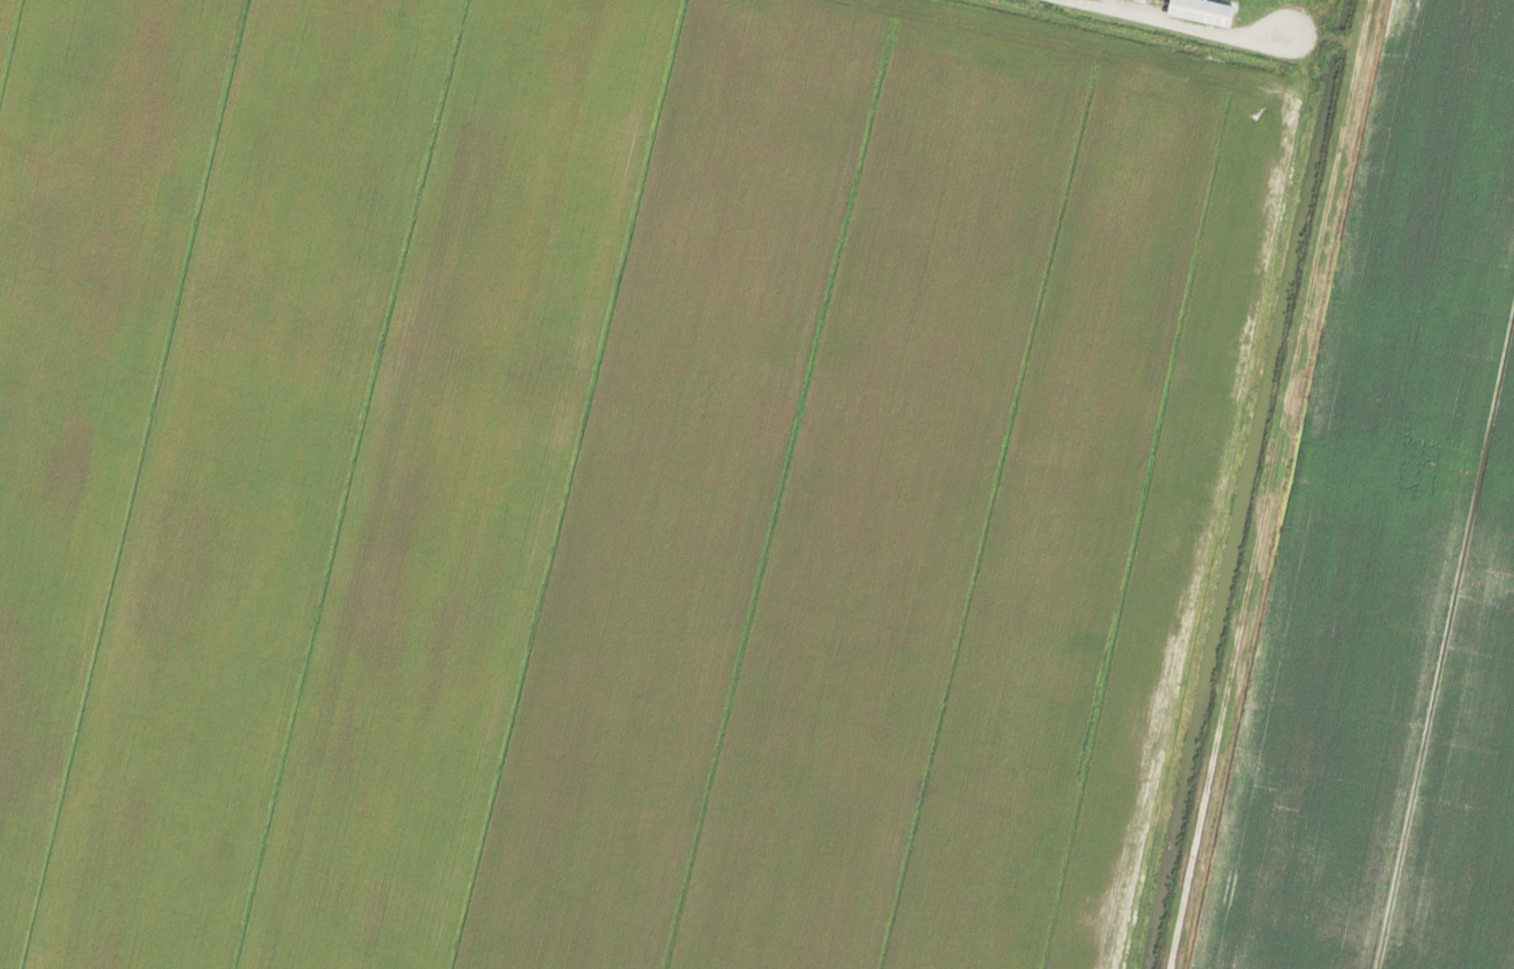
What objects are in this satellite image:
building: (1103, 0)
building: (1199, 11)
road: (1190, 25)
road: (1335, 36)
building: (639, 165)
road: (1271, 484)

